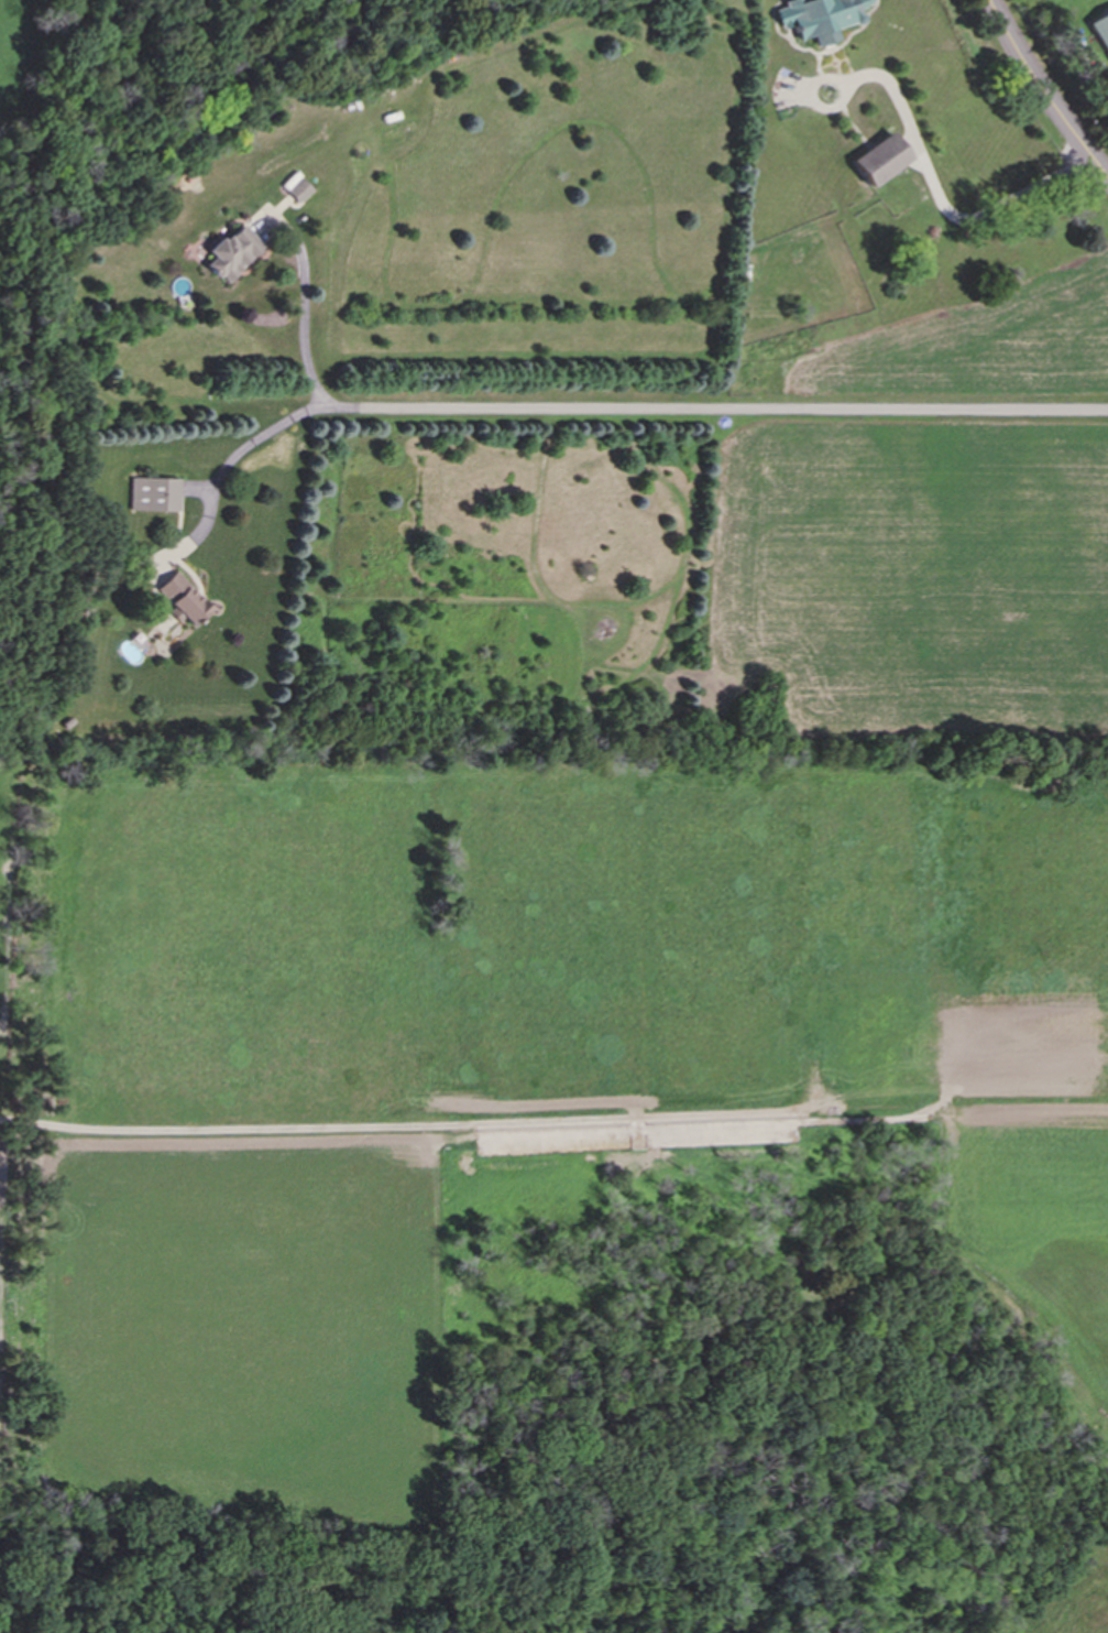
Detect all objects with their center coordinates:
road: (1013, 10)
building: (819, 18)
building: (1100, 30)
crop: (20, 58)
road: (1042, 94)
road: (919, 154)
building: (878, 159)
building: (297, 190)
building: (231, 252)
road: (303, 318)
road: (726, 410)
road: (231, 458)
building: (155, 494)
building: (183, 599)

